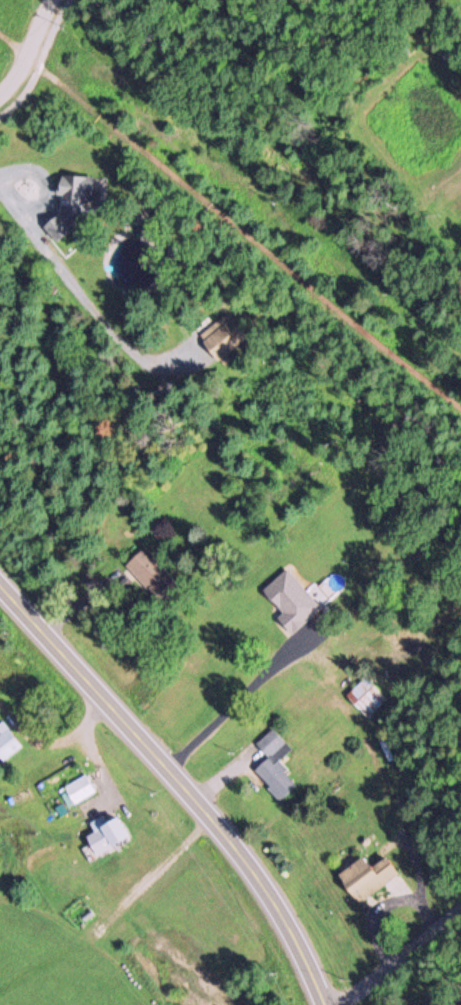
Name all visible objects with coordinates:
road: (27, 48)
road: (41, 60)
building: (223, 336)
building: (154, 576)
building: (366, 696)
building: (7, 742)
building: (274, 764)
road: (180, 780)
building: (78, 788)
building: (106, 831)
building: (367, 877)
road: (406, 963)

